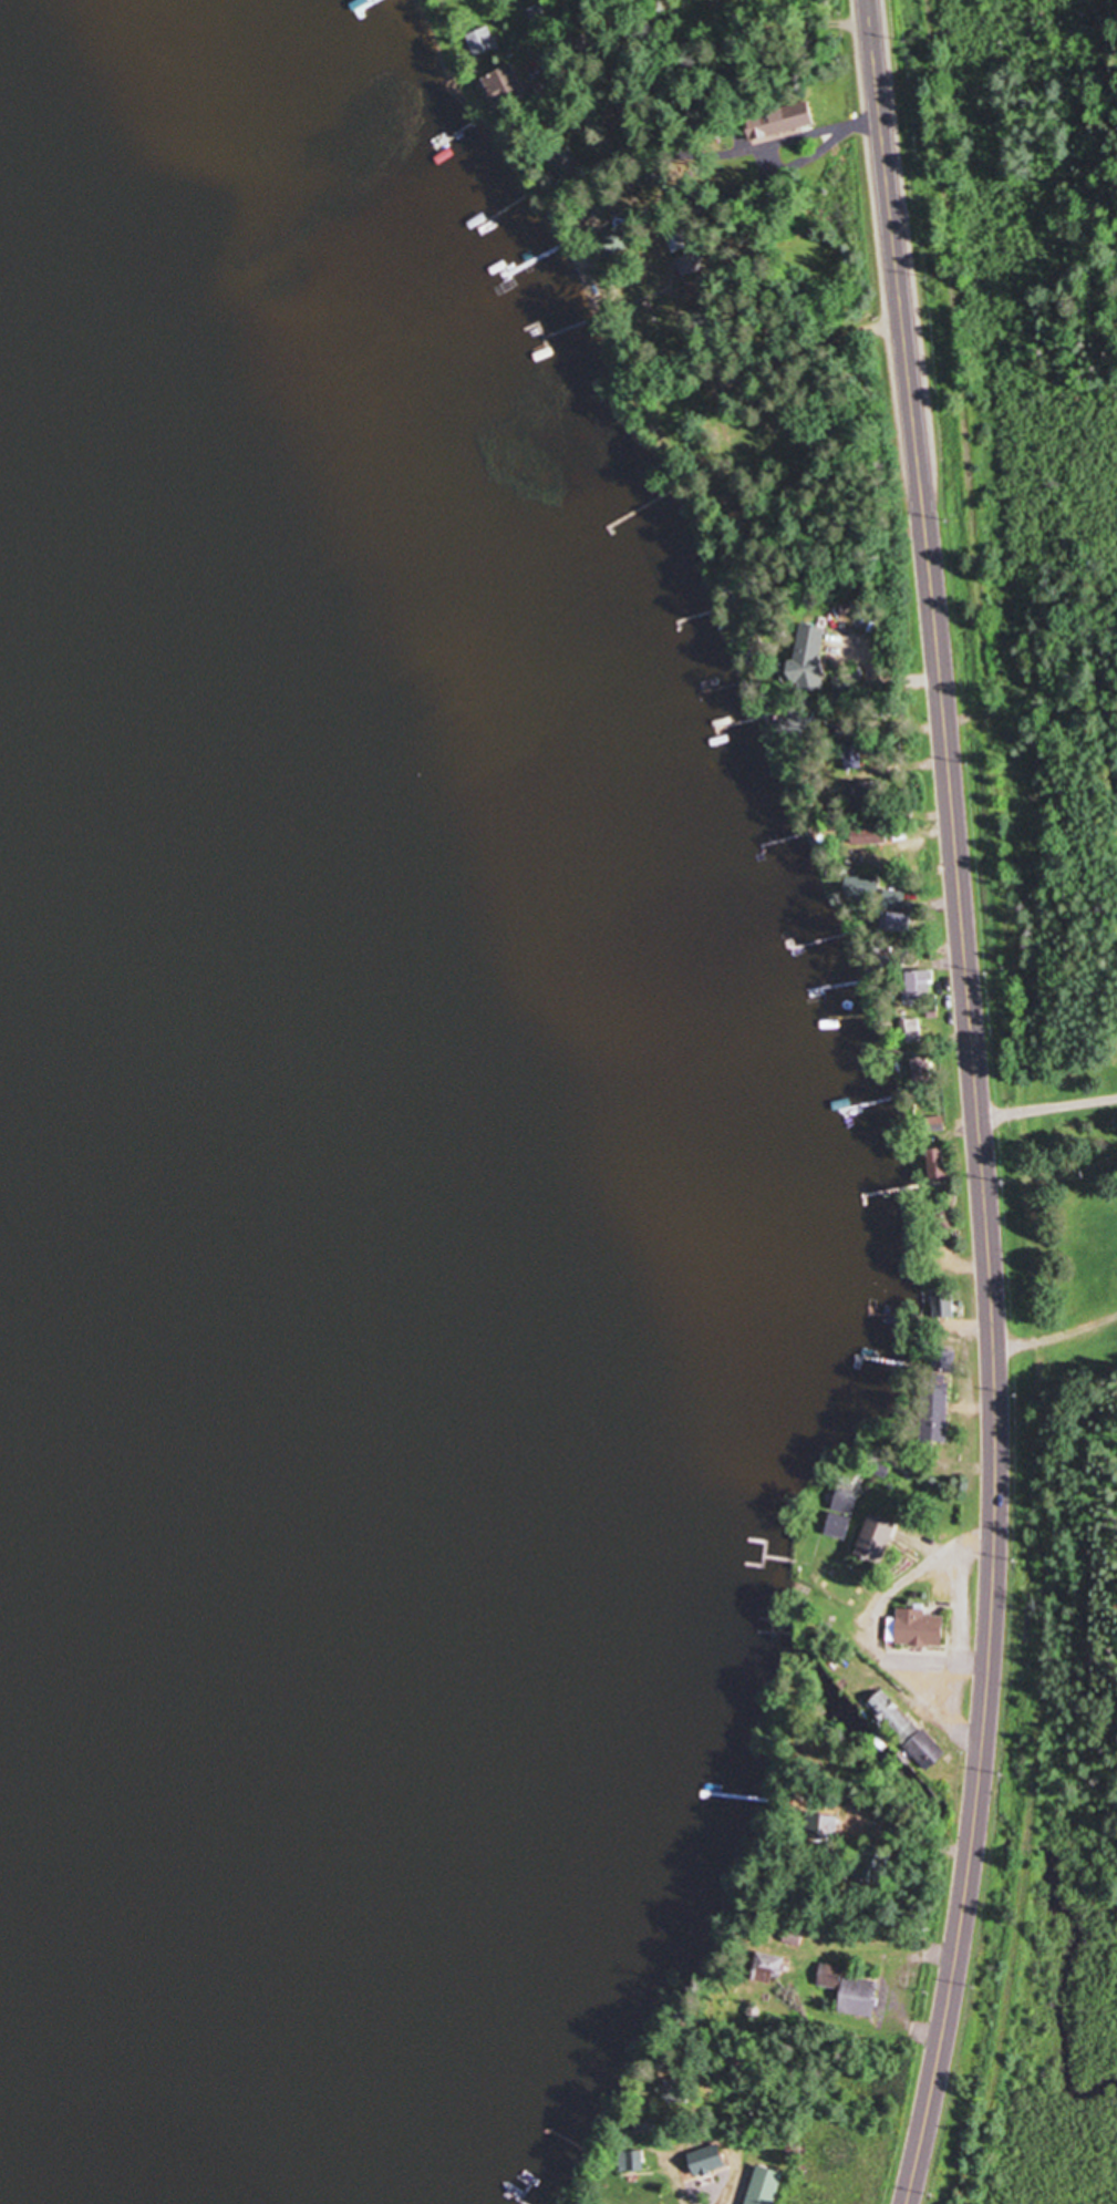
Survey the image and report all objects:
building: (484, 42)
building: (794, 119)
building: (759, 130)
road: (784, 152)
building: (619, 239)
building: (680, 241)
building: (811, 661)
park: (1036, 707)
building: (870, 836)
building: (865, 889)
building: (921, 986)
road: (979, 1103)
road: (1048, 1108)
building: (944, 1305)
road: (1056, 1333)
building: (938, 1404)
building: (844, 1516)
building: (878, 1541)
building: (921, 1629)
building: (908, 1731)
building: (796, 1936)
building: (768, 1968)
building: (851, 1992)
building: (707, 2161)
building: (632, 2162)
building: (765, 2186)

